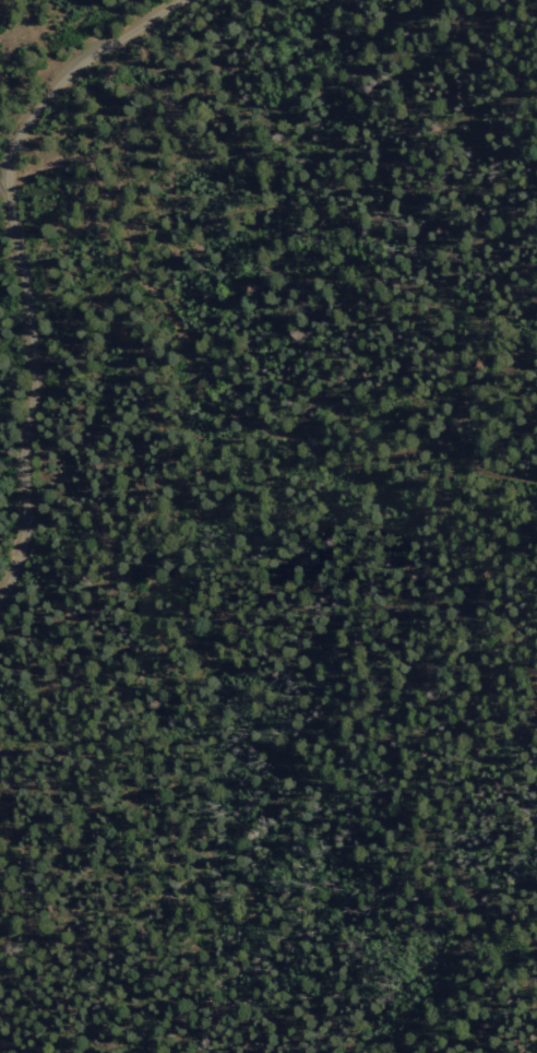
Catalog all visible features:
road: (41, 59)

